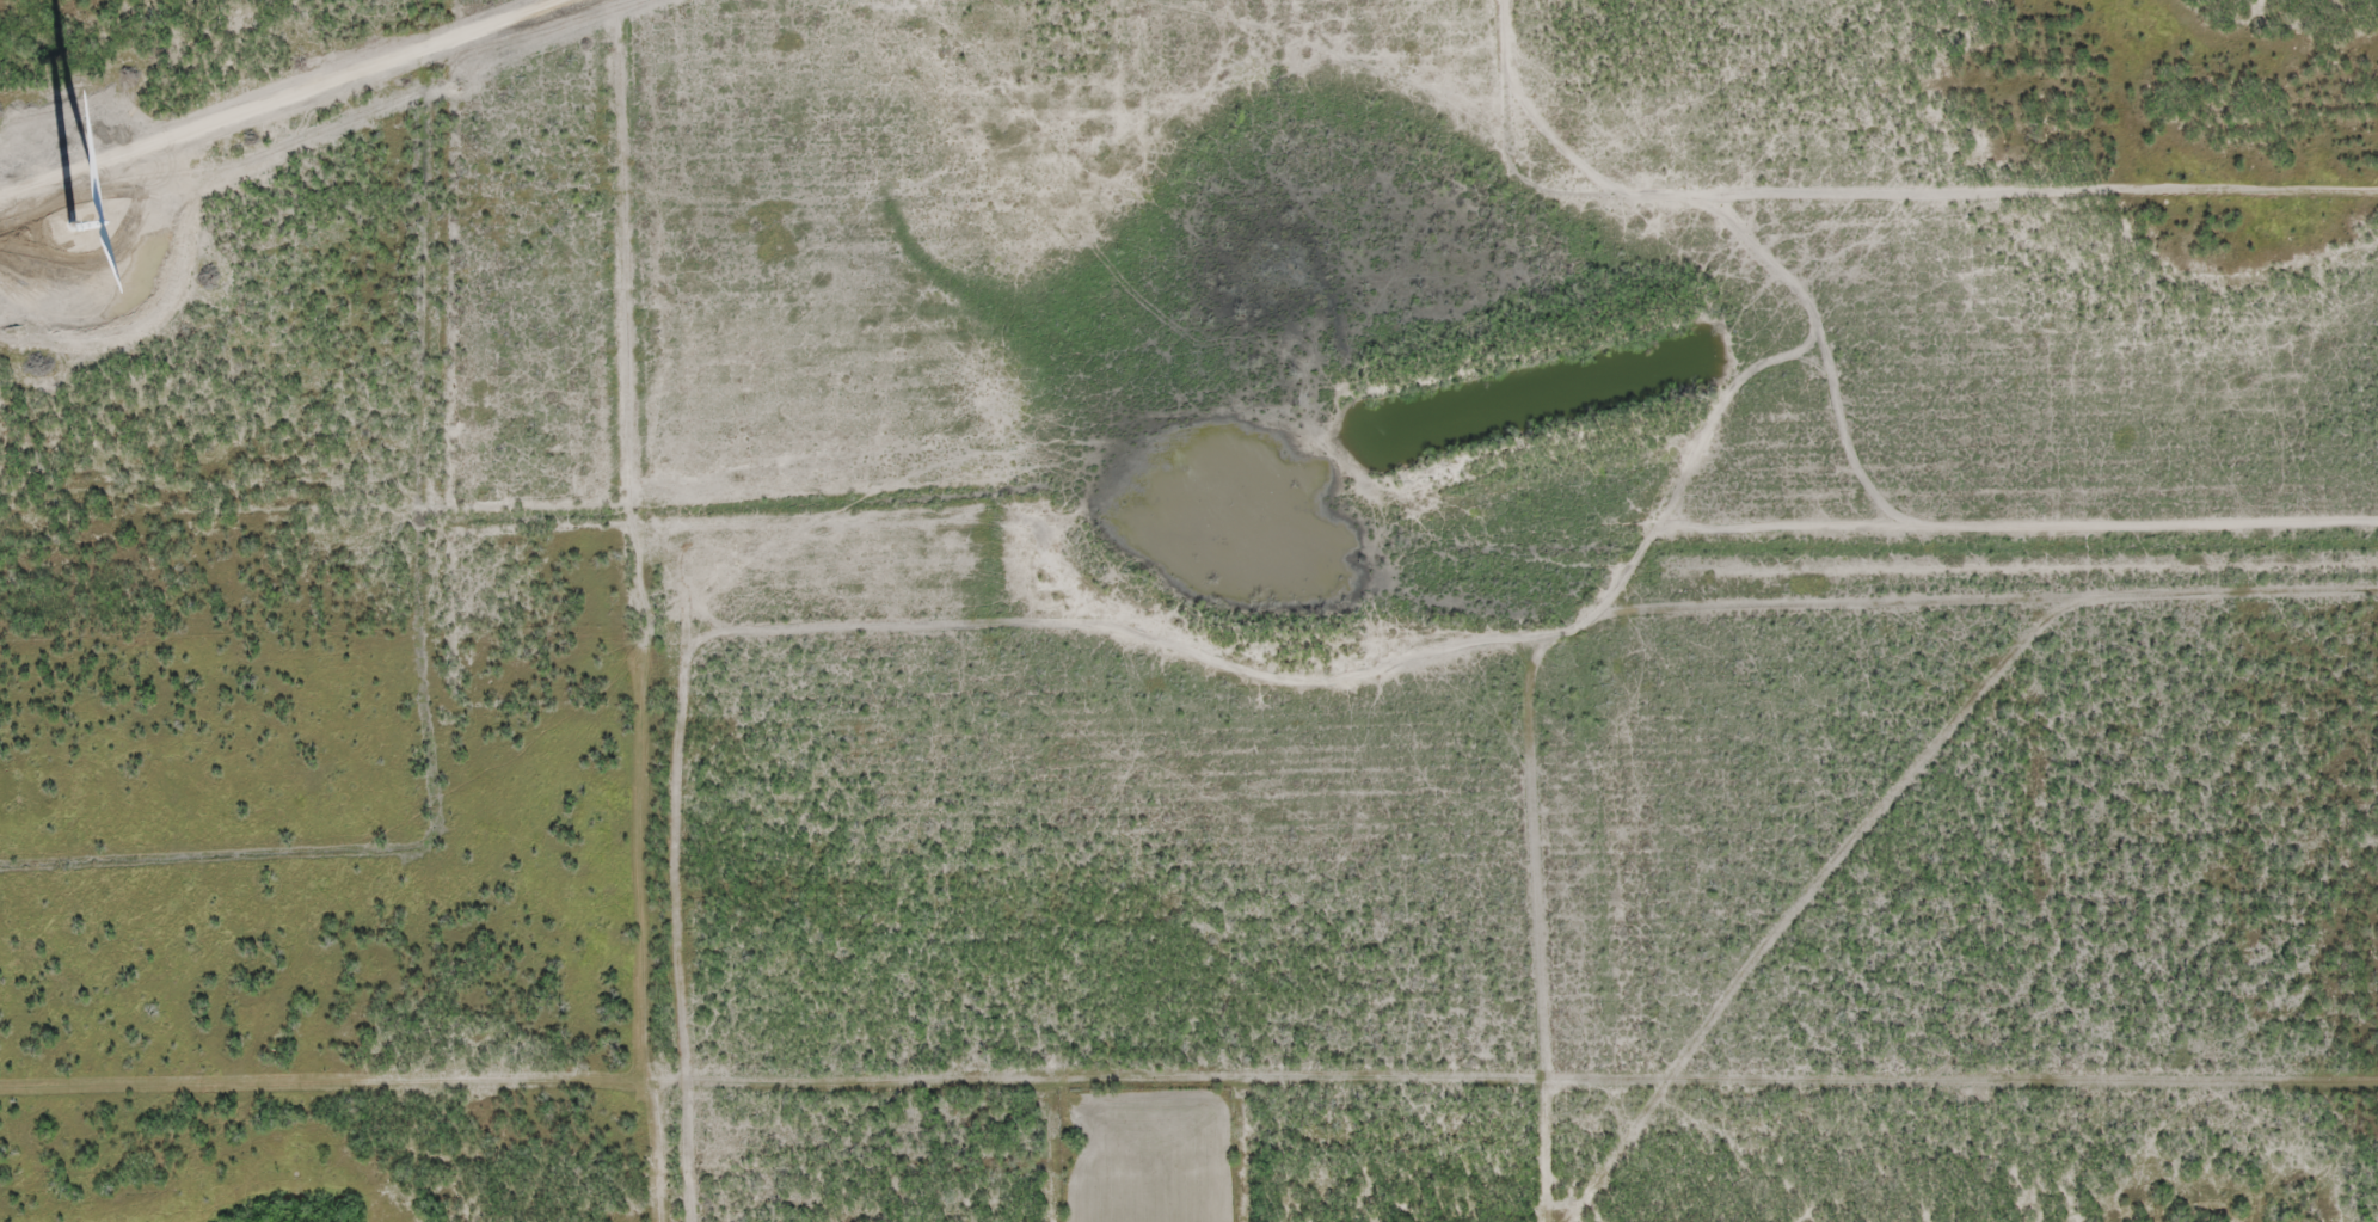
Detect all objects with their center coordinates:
road: (275, 98)
wind turbine: (74, 225)
river: (1542, 489)

